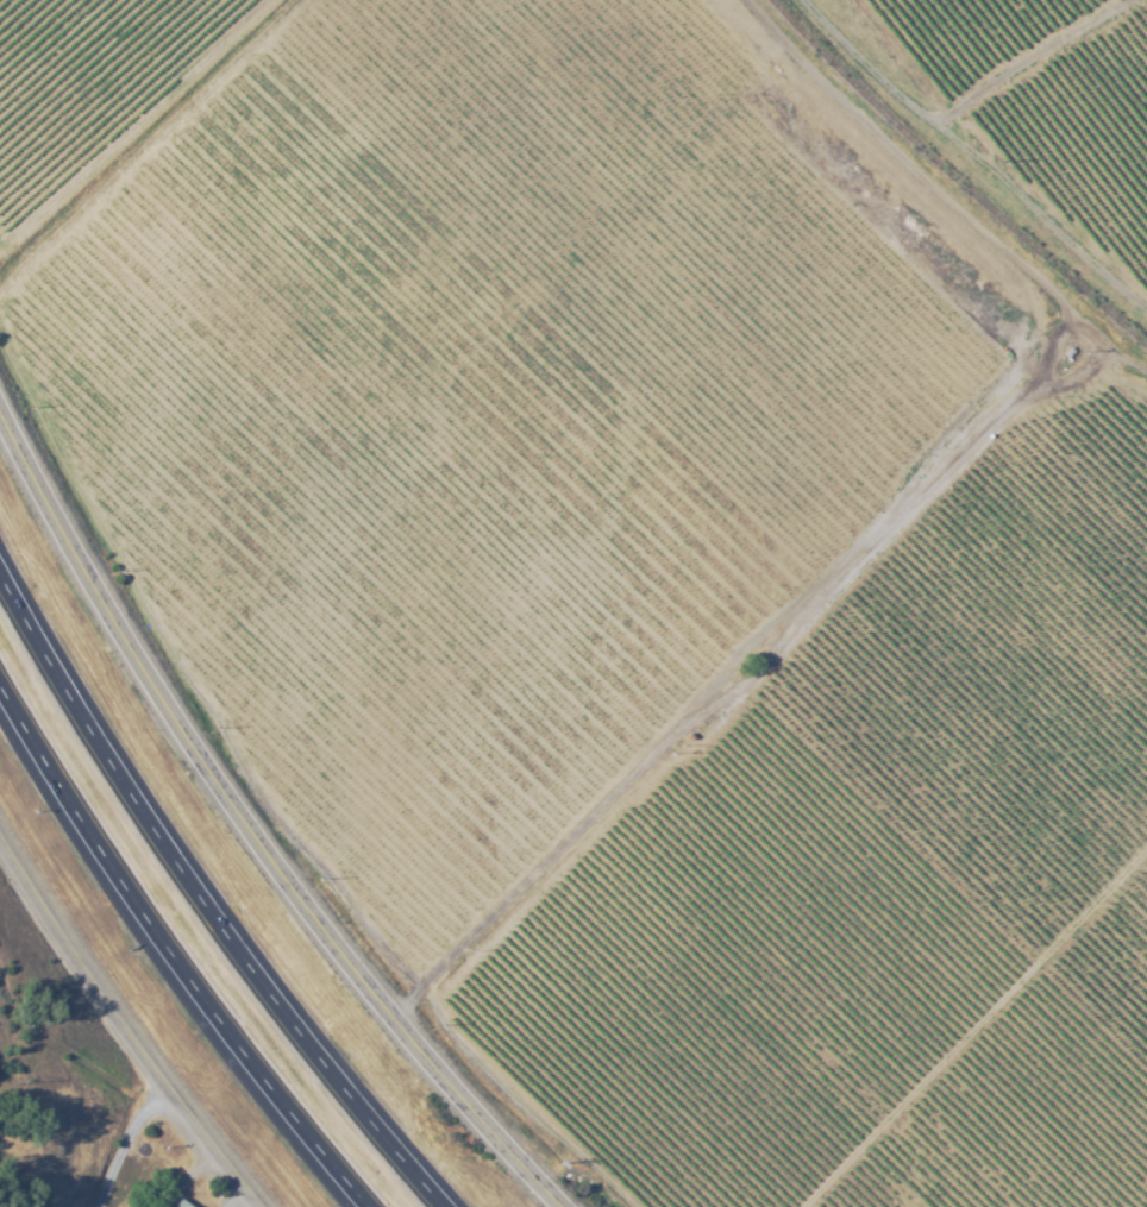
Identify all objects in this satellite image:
railway: (953, 177)
road: (251, 834)
road: (203, 898)
road: (170, 950)
road: (125, 1019)
building: (130, 1187)
building: (173, 1202)

